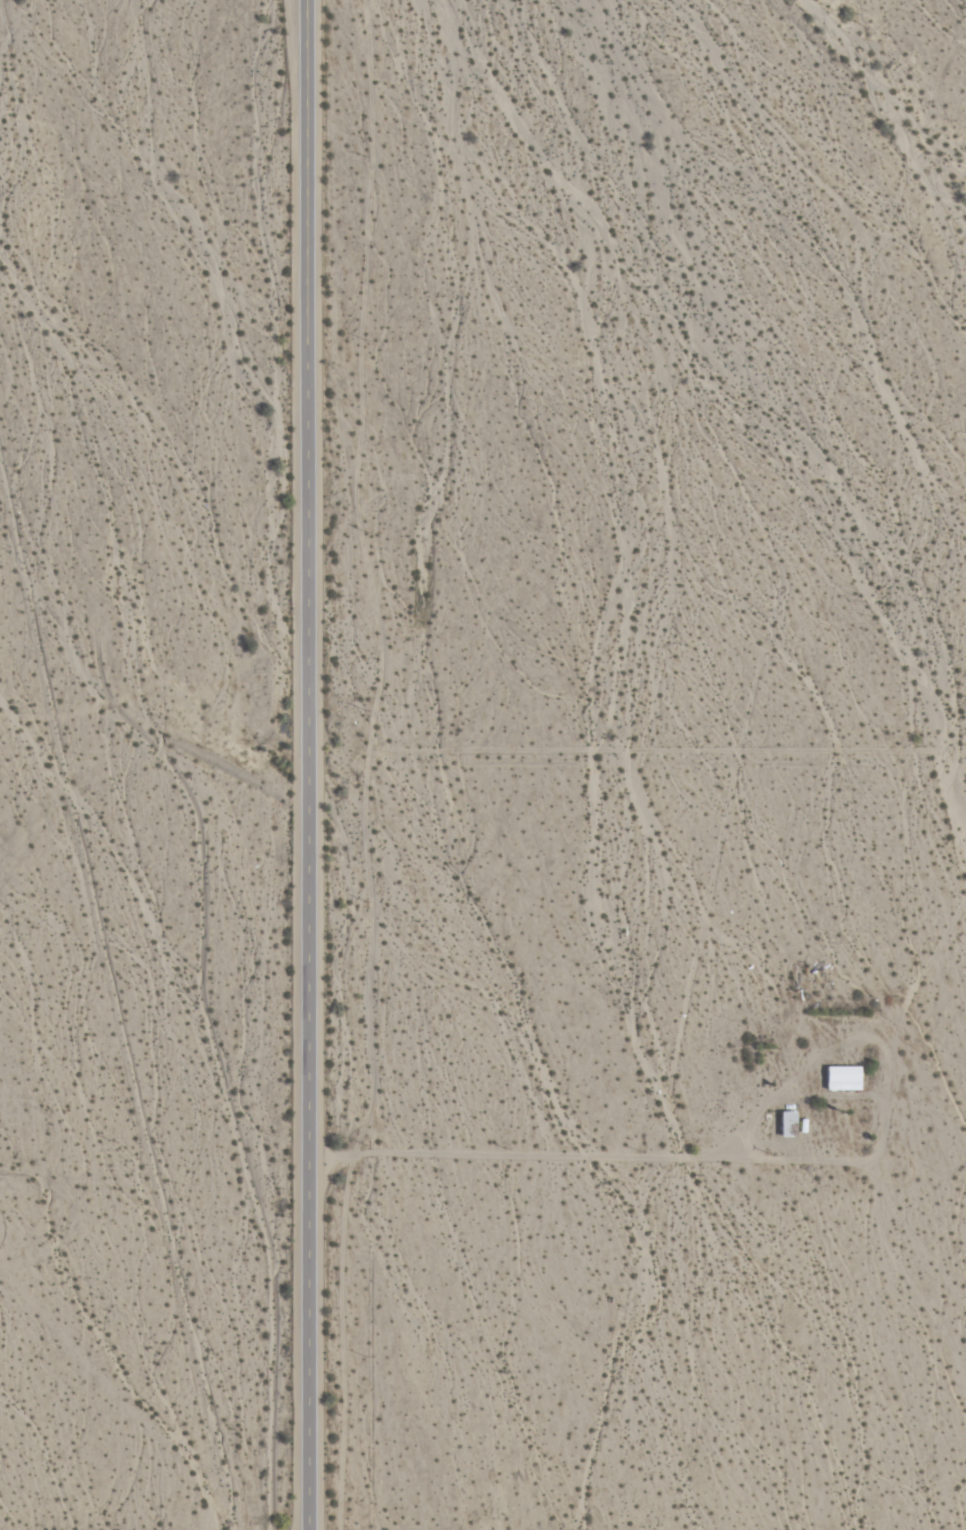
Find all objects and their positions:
road: (313, 765)
building: (843, 1078)
building: (789, 1124)

